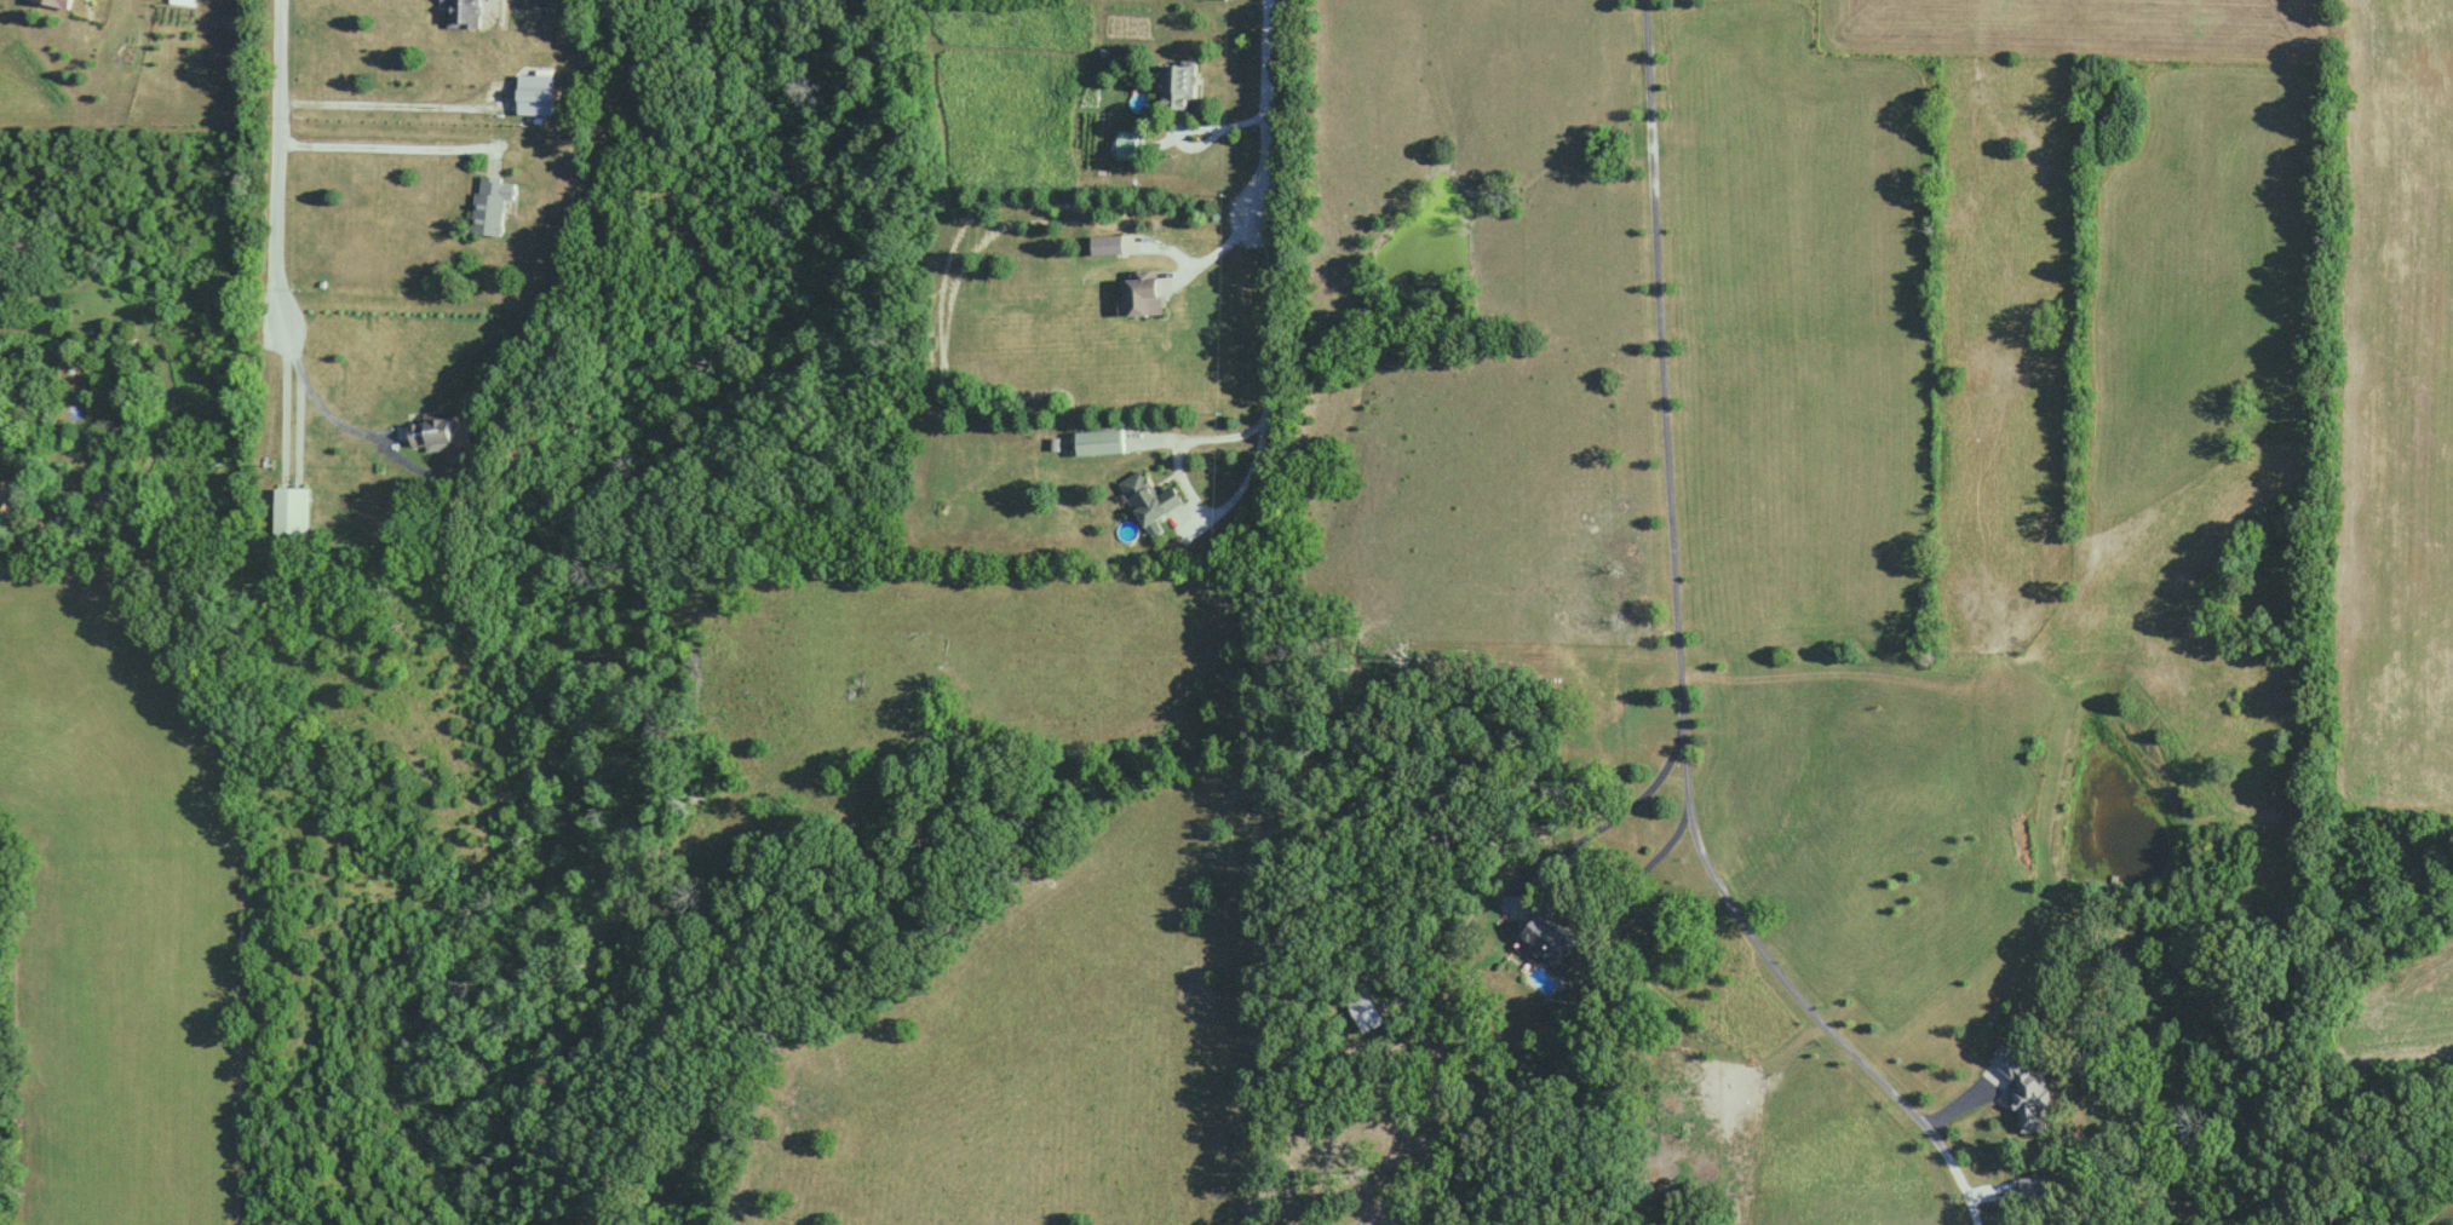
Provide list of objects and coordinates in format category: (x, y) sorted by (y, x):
building: (56, 4)
building: (461, 15)
building: (1178, 86)
building: (534, 96)
road: (1273, 109)
road: (404, 110)
road: (413, 144)
building: (1125, 145)
building: (489, 208)
road: (1178, 246)
road: (1223, 249)
building: (1139, 294)
road: (292, 333)
building: (431, 435)
building: (1098, 443)
road: (1672, 465)
building: (109, 496)
building: (1147, 500)
building: (289, 513)
road: (70, 559)
road: (1614, 887)
building: (1549, 941)
road: (1798, 995)
building: (2028, 1099)

